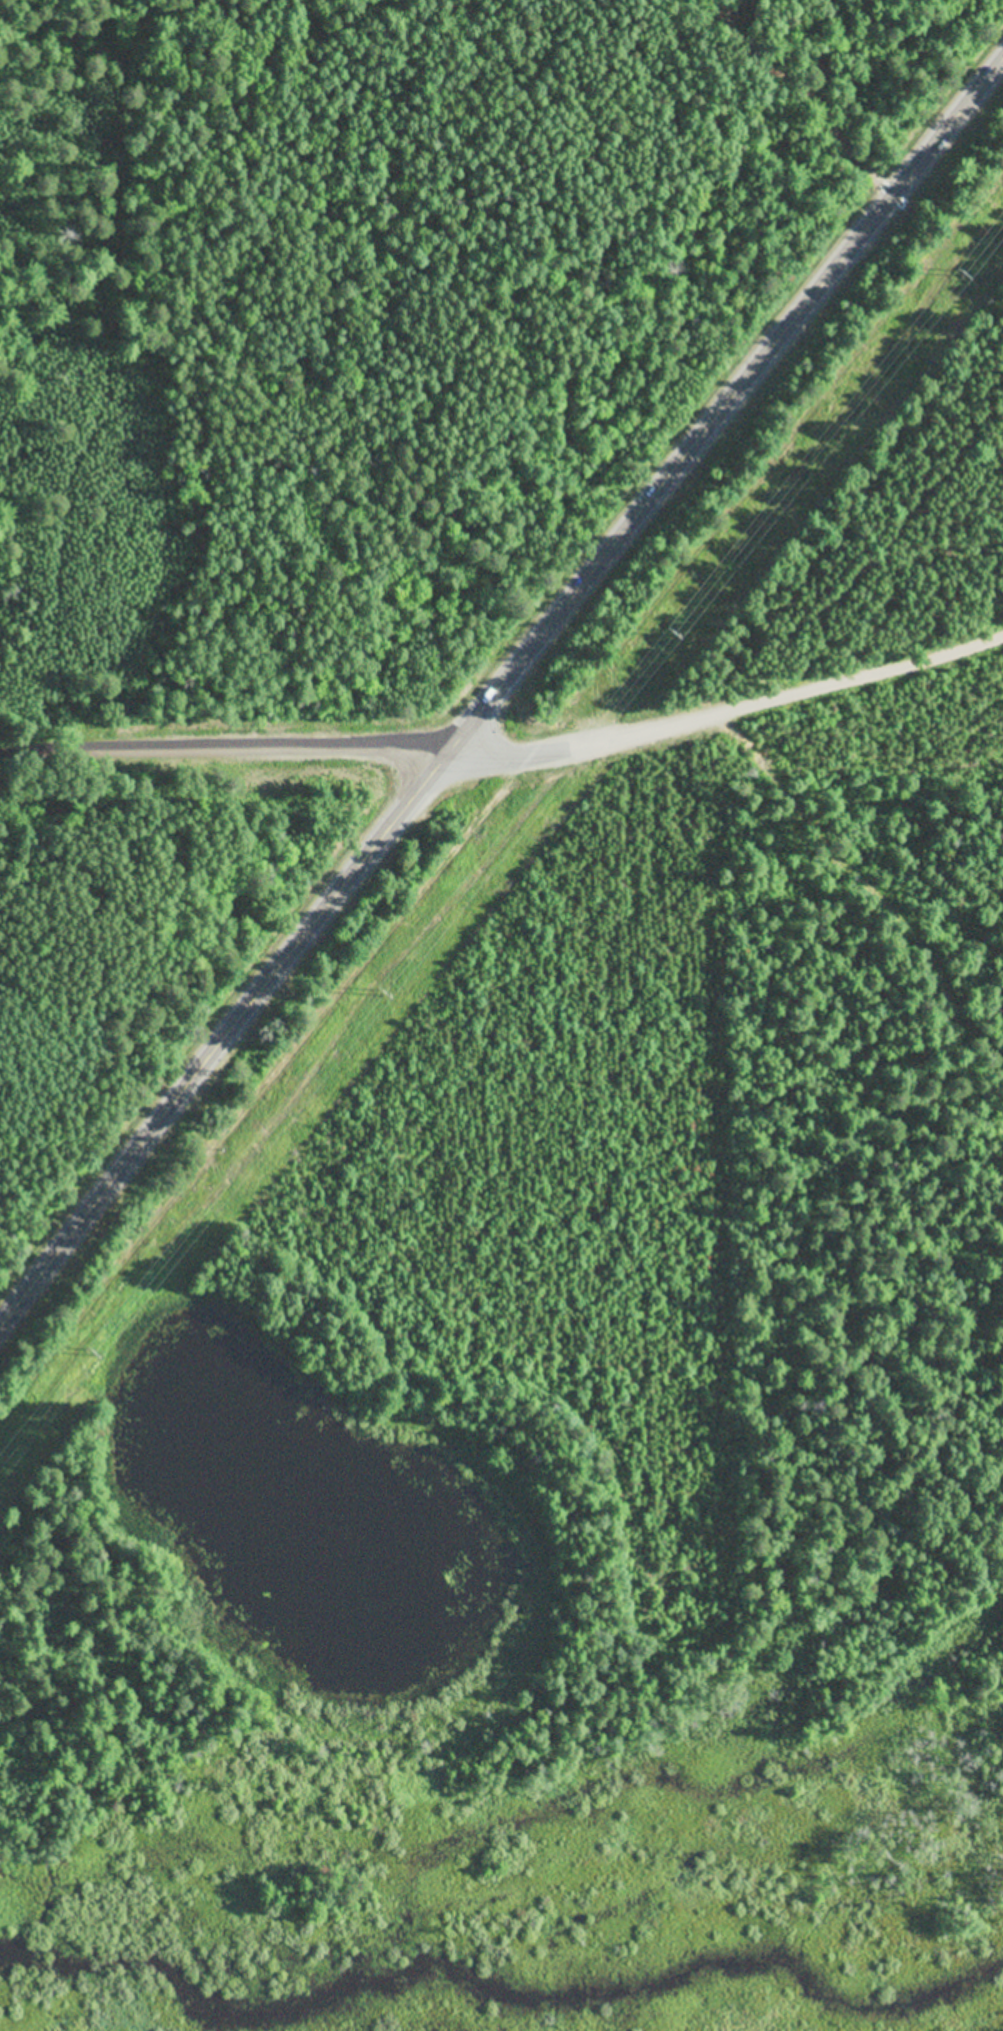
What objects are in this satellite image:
road: (496, 684)
road: (728, 713)
road: (222, 746)

